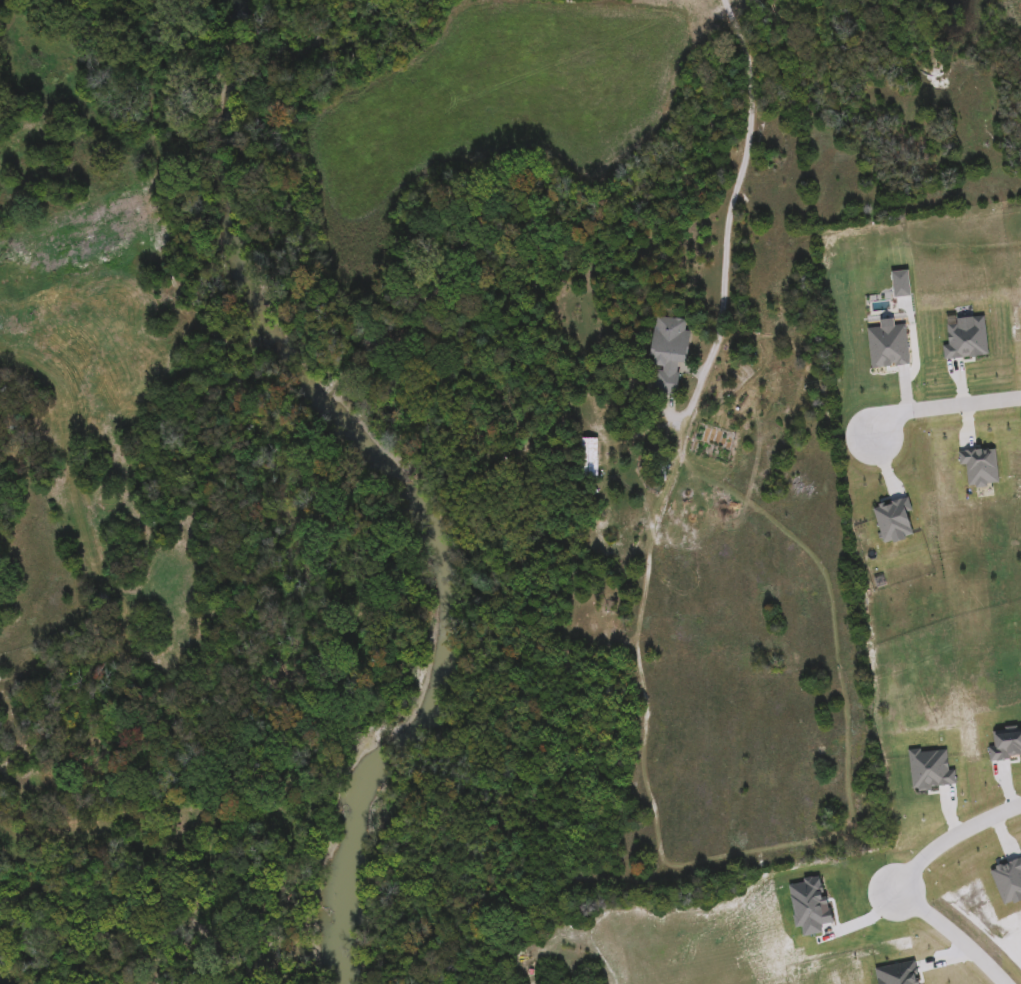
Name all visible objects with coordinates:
road: (728, 222)
building: (901, 283)
building: (967, 337)
building: (888, 344)
building: (667, 350)
road: (941, 405)
building: (980, 465)
building: (895, 519)
building: (1006, 744)
building: (931, 769)
road: (949, 834)
building: (943, 860)
building: (1008, 880)
road: (949, 935)

